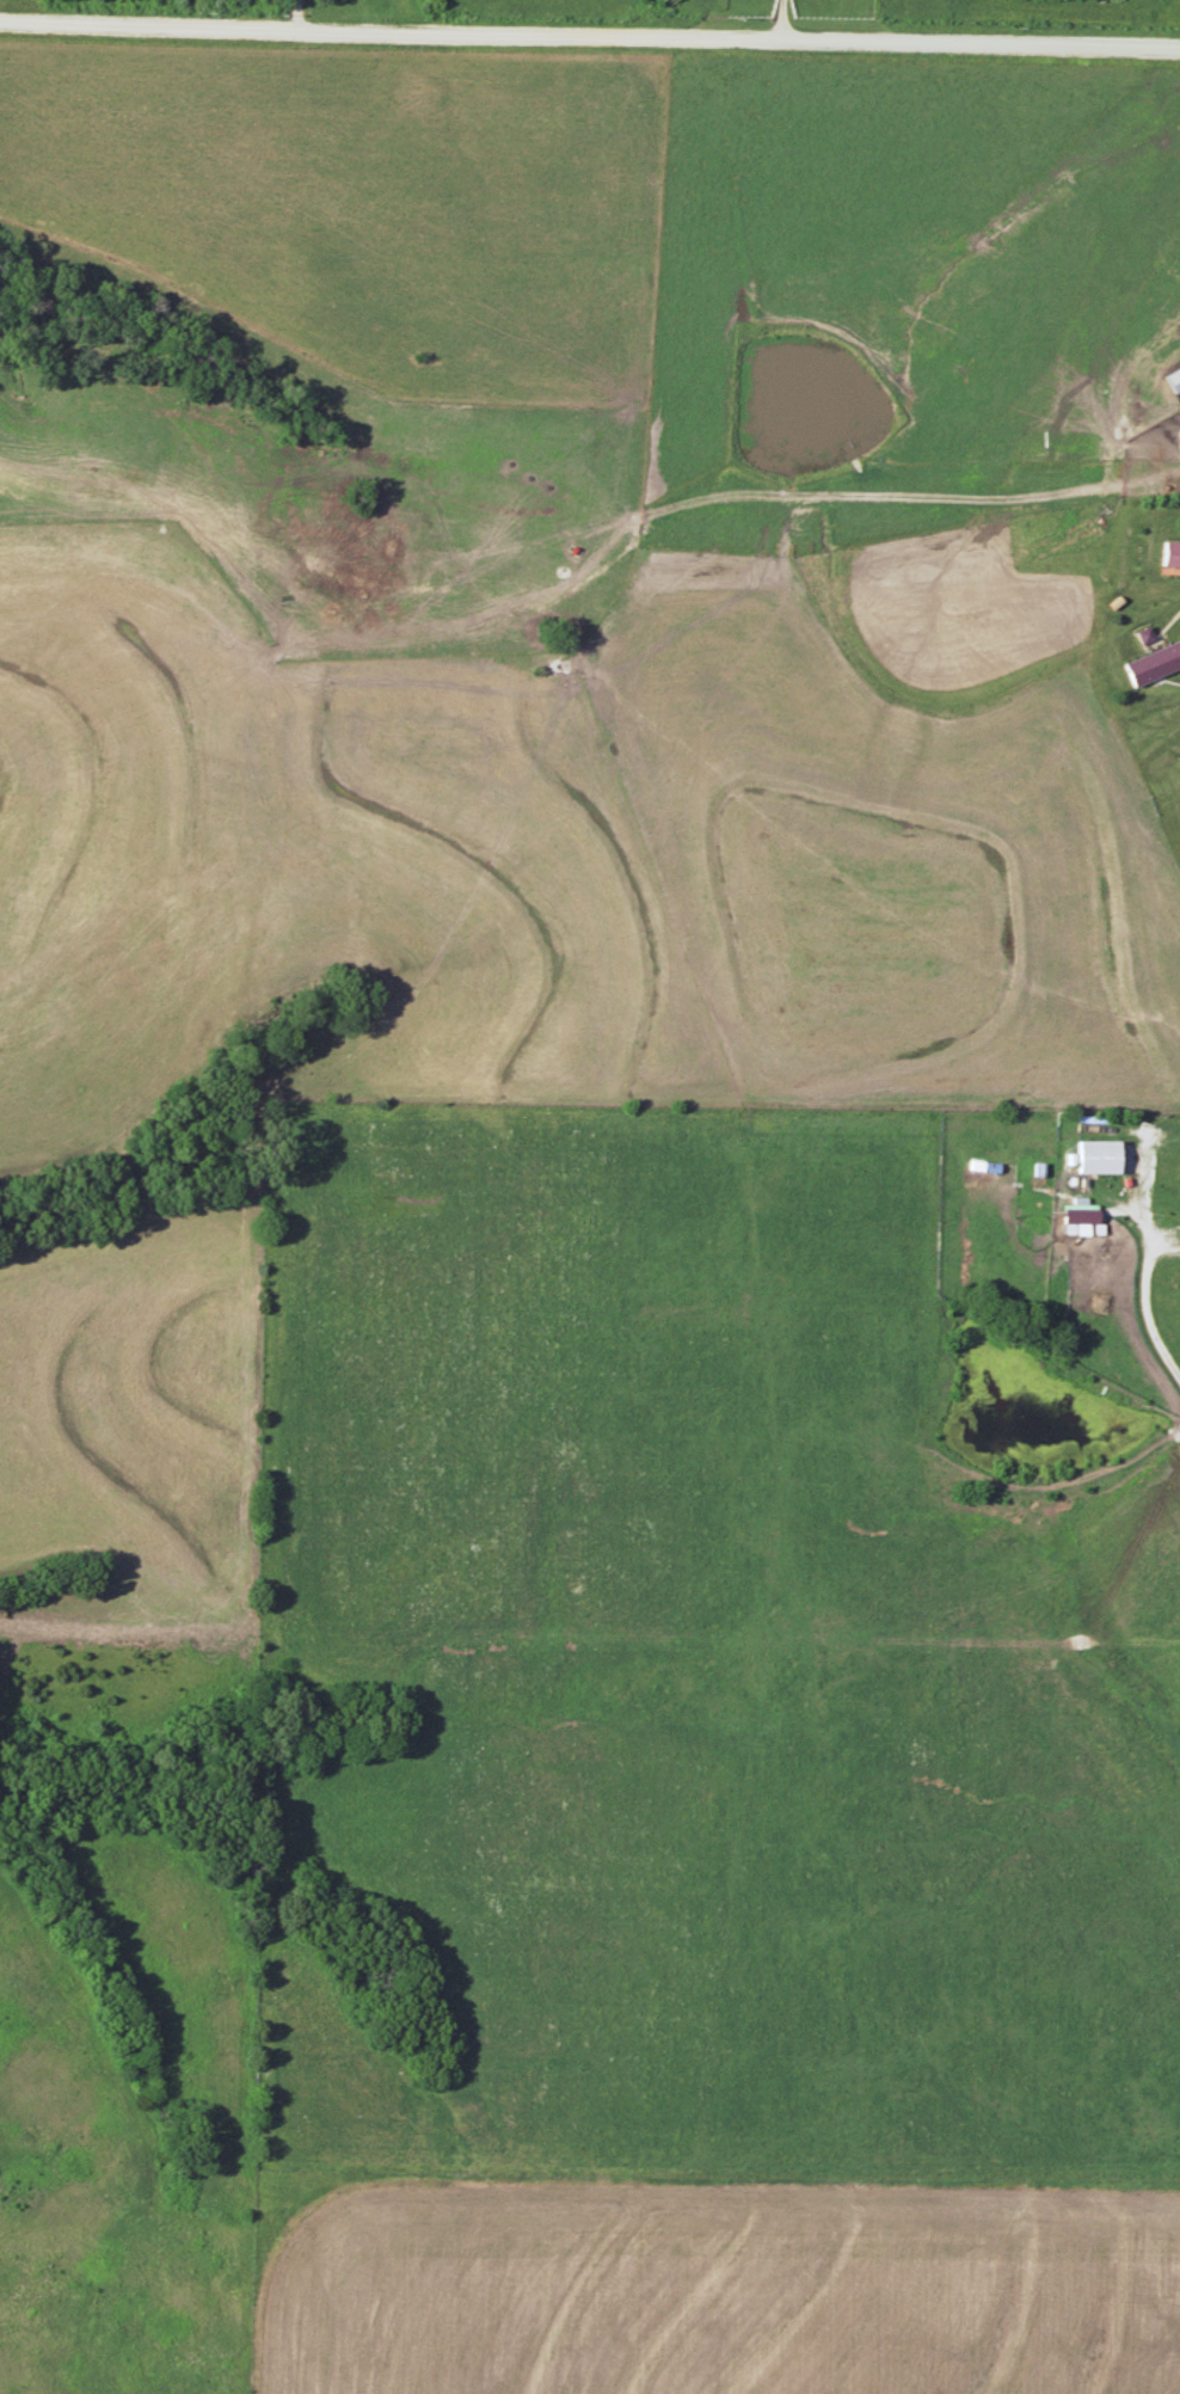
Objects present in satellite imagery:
road: (295, 17)
road: (785, 22)
road: (589, 39)
building: (1169, 554)
building: (1153, 663)
building: (1094, 1156)
road: (1143, 1320)

